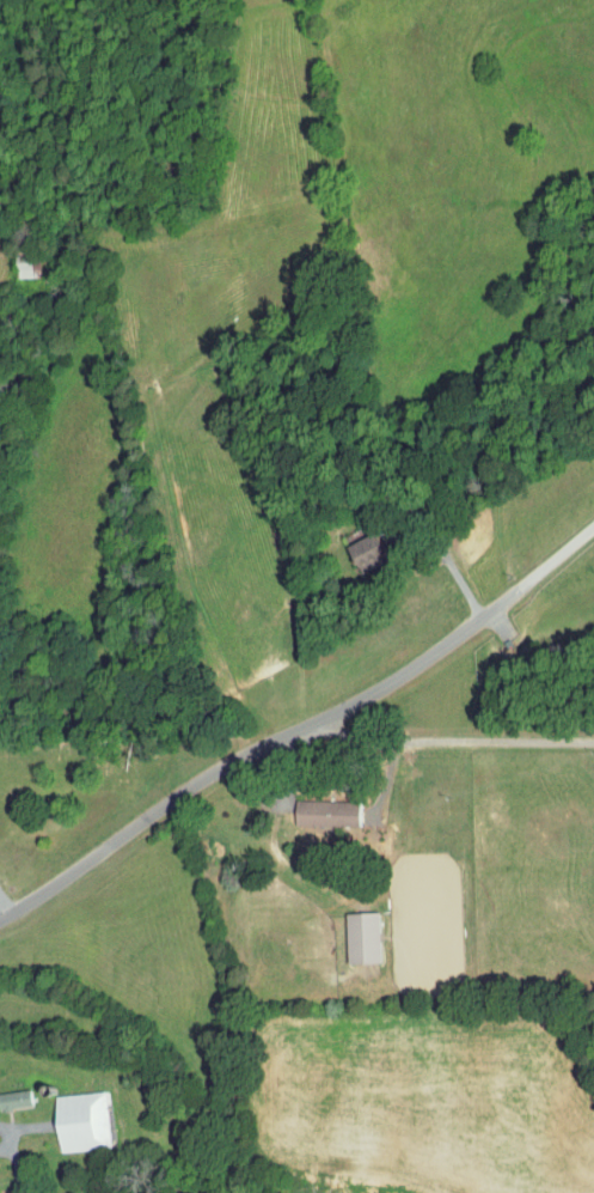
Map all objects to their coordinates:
building: (30, 268)
building: (369, 549)
road: (455, 571)
road: (302, 734)
road: (455, 738)
road: (290, 772)
building: (327, 812)
road: (6, 907)
building: (365, 937)
building: (16, 1097)
building: (82, 1120)
road: (5, 1136)

